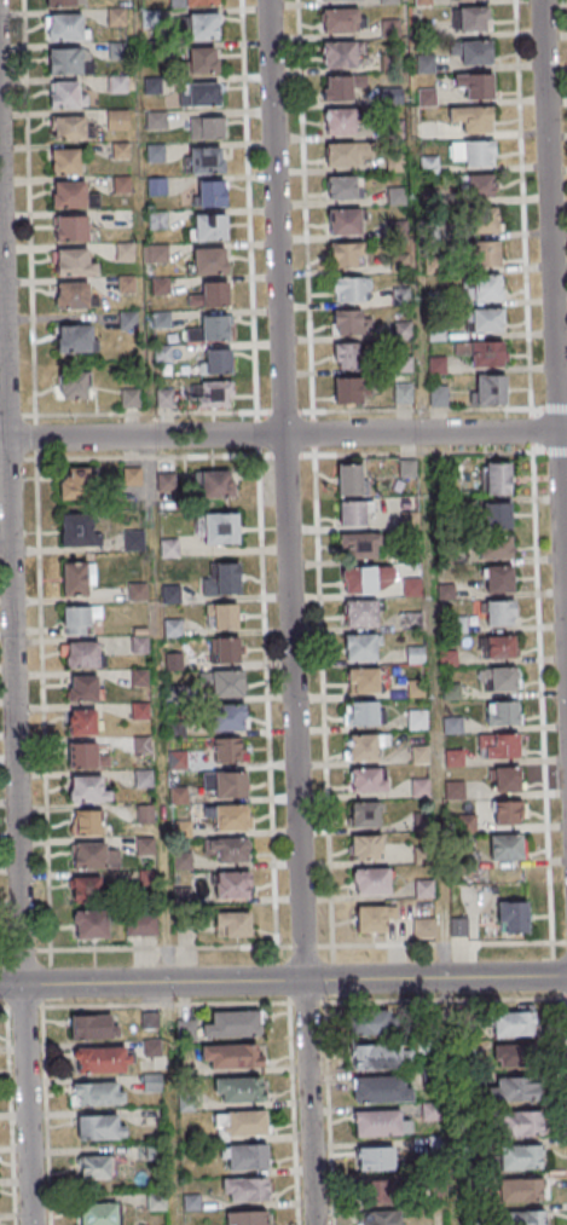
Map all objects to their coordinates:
building: (334, 0)
building: (389, 1)
building: (423, 1)
building: (62, 2)
building: (201, 2)
building: (473, 18)
building: (342, 19)
building: (64, 28)
building: (203, 28)
building: (389, 28)
building: (471, 51)
building: (341, 53)
building: (69, 60)
building: (203, 62)
building: (426, 63)
building: (118, 83)
building: (152, 85)
building: (476, 85)
building: (342, 87)
building: (65, 94)
building: (202, 96)
building: (116, 120)
building: (340, 121)
building: (471, 121)
building: (69, 128)
building: (208, 128)
building: (120, 150)
building: (473, 151)
building: (155, 152)
building: (343, 154)
building: (204, 160)
building: (64, 161)
building: (429, 164)
building: (121, 184)
building: (156, 185)
building: (342, 187)
building: (479, 187)
building: (210, 192)
building: (69, 193)
building: (122, 218)
building: (157, 219)
building: (345, 221)
building: (484, 221)
building: (208, 226)
building: (70, 229)
building: (123, 250)
building: (156, 253)
building: (346, 255)
building: (486, 255)
building: (209, 260)
building: (73, 261)
building: (398, 262)
building: (126, 284)
building: (161, 285)
building: (487, 289)
building: (348, 290)
building: (210, 294)
building: (71, 295)
building: (400, 297)
building: (484, 319)
building: (349, 323)
building: (209, 329)
building: (73, 339)
road: (554, 343)
building: (480, 351)
building: (346, 354)
building: (215, 362)
building: (71, 387)
building: (349, 389)
building: (490, 389)
building: (403, 392)
building: (212, 393)
building: (438, 394)
building: (131, 398)
building: (164, 398)
road: (283, 434)
building: (439, 467)
building: (404, 468)
road: (531, 470)
building: (129, 476)
building: (497, 478)
building: (349, 480)
building: (163, 481)
building: (75, 484)
building: (218, 484)
building: (353, 514)
building: (494, 515)
building: (406, 520)
building: (218, 527)
building: (76, 528)
building: (132, 542)
building: (358, 545)
building: (493, 547)
building: (167, 549)
building: (407, 554)
building: (441, 557)
building: (77, 578)
building: (496, 578)
building: (222, 579)
building: (355, 579)
building: (409, 587)
building: (444, 591)
building: (134, 593)
building: (169, 595)
road: (289, 612)
building: (358, 613)
building: (499, 613)
building: (222, 616)
building: (79, 619)
building: (410, 620)
building: (456, 624)
building: (170, 629)
building: (137, 645)
building: (358, 647)
building: (499, 647)
building: (225, 649)
building: (83, 654)
building: (412, 654)
building: (446, 659)
building: (172, 661)
building: (137, 678)
building: (498, 680)
building: (360, 681)
building: (222, 683)
building: (82, 688)
building: (413, 688)
building: (449, 690)
building: (173, 695)
road: (432, 700)
building: (137, 711)
building: (359, 712)
building: (503, 712)
building: (230, 717)
building: (416, 720)
road: (13, 721)
building: (85, 722)
building: (450, 726)
building: (140, 745)
building: (497, 745)
building: (359, 747)
building: (228, 750)
building: (417, 755)
building: (86, 756)
building: (452, 758)
building: (174, 761)
building: (141, 779)
building: (361, 779)
building: (503, 779)
building: (225, 784)
building: (418, 787)
building: (88, 788)
building: (452, 790)
building: (175, 796)
building: (505, 813)
building: (143, 814)
building: (361, 814)
building: (230, 819)
building: (87, 821)
building: (420, 822)
building: (464, 824)
road: (270, 825)
building: (179, 830)
road: (160, 831)
building: (143, 846)
building: (363, 846)
building: (502, 846)
building: (225, 850)
building: (421, 855)
building: (94, 856)
building: (463, 860)
building: (180, 861)
building: (145, 878)
building: (370, 880)
building: (232, 886)
building: (85, 889)
building: (421, 890)
building: (513, 917)
building: (371, 918)
building: (184, 919)
building: (91, 925)
building: (139, 925)
building: (232, 925)
building: (420, 929)
building: (456, 929)
road: (283, 981)
building: (375, 1023)
building: (231, 1024)
building: (513, 1025)
building: (94, 1027)
building: (232, 1056)
building: (514, 1056)
building: (381, 1057)
building: (100, 1059)
building: (152, 1086)
building: (238, 1090)
building: (516, 1090)
building: (381, 1091)
building: (97, 1093)
building: (241, 1123)
building: (381, 1123)
building: (521, 1123)
building: (100, 1127)
building: (247, 1156)
building: (376, 1157)
building: (521, 1157)
building: (94, 1167)
building: (245, 1190)
building: (381, 1190)
building: (521, 1190)
building: (157, 1201)
building: (98, 1213)
building: (247, 1218)
building: (378, 1218)
building: (531, 1218)

